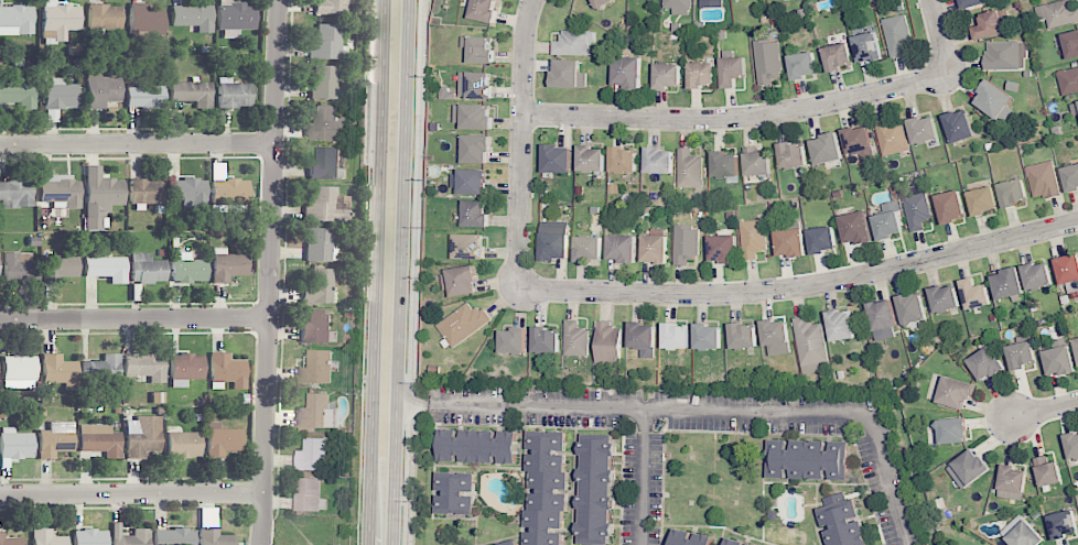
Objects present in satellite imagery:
building: (708, 0)
building: (719, 2)
building: (973, 2)
building: (602, 3)
building: (680, 6)
building: (331, 7)
building: (485, 10)
building: (1058, 12)
building: (105, 17)
building: (193, 17)
building: (235, 18)
building: (60, 19)
building: (15, 20)
building: (145, 20)
building: (994, 23)
building: (678, 26)
building: (897, 34)
building: (327, 43)
building: (574, 43)
building: (1072, 44)
building: (870, 46)
building: (481, 47)
building: (1007, 54)
building: (840, 56)
building: (769, 59)
building: (804, 64)
building: (734, 69)
building: (632, 72)
building: (704, 74)
building: (570, 75)
building: (669, 75)
building: (1069, 81)
building: (324, 83)
building: (476, 83)
road: (370, 84)
building: (101, 90)
building: (192, 92)
building: (233, 94)
building: (19, 95)
building: (61, 95)
building: (145, 95)
building: (996, 100)
building: (1075, 108)
road: (776, 113)
building: (477, 116)
building: (324, 123)
building: (961, 126)
building: (925, 129)
building: (894, 135)
building: (859, 139)
road: (521, 143)
road: (139, 145)
building: (478, 146)
building: (829, 149)
building: (794, 153)
building: (558, 157)
building: (592, 159)
building: (624, 160)
building: (659, 160)
building: (759, 162)
building: (325, 164)
building: (726, 164)
building: (690, 168)
building: (1072, 177)
building: (1045, 179)
building: (475, 181)
building: (60, 189)
building: (145, 192)
building: (187, 192)
building: (1016, 192)
building: (15, 194)
building: (227, 194)
building: (100, 197)
building: (985, 199)
building: (325, 206)
building: (953, 206)
building: (919, 210)
building: (477, 214)
building: (890, 225)
building: (859, 227)
building: (755, 238)
building: (824, 239)
building: (794, 242)
building: (319, 244)
building: (557, 244)
building: (687, 244)
building: (471, 247)
building: (624, 247)
building: (591, 248)
building: (657, 248)
building: (725, 248)
building: (227, 265)
building: (19, 268)
building: (60, 268)
building: (107, 269)
building: (147, 269)
building: (188, 269)
building: (1070, 270)
road: (273, 272)
road: (375, 272)
road: (399, 272)
road: (412, 272)
building: (1039, 274)
building: (462, 281)
building: (1010, 282)
road: (800, 286)
building: (317, 287)
building: (977, 294)
building: (946, 297)
building: (913, 308)
building: (885, 318)
road: (136, 319)
building: (465, 324)
building: (842, 325)
building: (317, 327)
building: (678, 335)
building: (710, 336)
building: (776, 336)
building: (645, 337)
building: (746, 338)
building: (547, 339)
building: (516, 340)
building: (578, 340)
building: (1077, 341)
building: (608, 342)
building: (811, 345)
building: (1024, 352)
road: (363, 356)
building: (1063, 357)
building: (989, 362)
building: (145, 367)
building: (187, 367)
building: (316, 368)
building: (101, 369)
building: (20, 370)
building: (228, 370)
building: (60, 371)
building: (957, 392)
road: (406, 403)
road: (709, 411)
road: (1047, 412)
building: (315, 413)
building: (956, 429)
building: (142, 436)
building: (55, 439)
building: (99, 440)
building: (223, 440)
building: (15, 444)
building: (183, 445)
building: (481, 445)
building: (1072, 445)
building: (313, 455)
building: (811, 458)
building: (969, 469)
building: (1049, 470)
road: (644, 477)
building: (1013, 479)
building: (549, 487)
building: (600, 488)
building: (459, 492)
road: (131, 494)
building: (310, 494)
building: (845, 523)
building: (1065, 523)
building: (1024, 532)
building: (129, 536)
building: (174, 536)
building: (47, 537)
building: (90, 537)
building: (214, 537)
building: (692, 537)
building: (10, 539)
building: (737, 542)
building: (513, 543)

